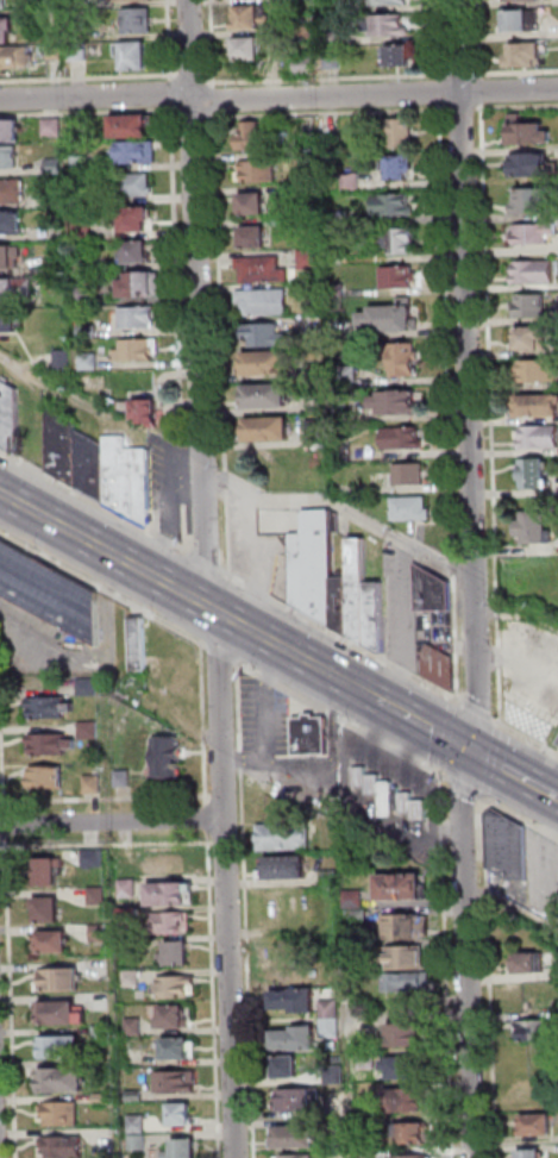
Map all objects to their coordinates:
building: (521, 0)
building: (133, 1)
building: (390, 2)
building: (0, 5)
building: (251, 18)
building: (522, 19)
building: (137, 21)
building: (388, 25)
building: (305, 26)
building: (6, 30)
building: (336, 38)
road: (481, 38)
road: (170, 39)
road: (438, 39)
road: (214, 43)
building: (250, 50)
building: (57, 52)
building: (77, 52)
building: (526, 55)
building: (136, 56)
building: (401, 56)
building: (14, 57)
building: (333, 60)
building: (306, 65)
road: (516, 74)
road: (459, 75)
road: (88, 77)
road: (192, 79)
road: (325, 79)
road: (482, 90)
road: (439, 92)
road: (171, 93)
road: (278, 98)
road: (215, 101)
road: (518, 108)
road: (462, 109)
road: (89, 113)
road: (194, 114)
road: (327, 114)
building: (131, 126)
building: (52, 129)
building: (526, 131)
building: (11, 132)
building: (400, 133)
building: (251, 137)
building: (332, 143)
building: (138, 152)
building: (10, 158)
building: (308, 161)
building: (528, 163)
building: (80, 164)
building: (54, 167)
building: (399, 168)
building: (258, 171)
building: (351, 180)
building: (133, 186)
building: (294, 189)
building: (13, 192)
building: (55, 199)
building: (529, 199)
building: (253, 205)
building: (393, 206)
building: (136, 220)
building: (295, 221)
building: (12, 224)
building: (84, 230)
building: (533, 233)
building: (255, 238)
building: (397, 242)
building: (134, 252)
building: (336, 256)
building: (10, 257)
building: (309, 261)
building: (56, 264)
building: (84, 265)
building: (263, 270)
building: (532, 270)
road: (177, 275)
building: (399, 278)
building: (138, 286)
building: (17, 289)
building: (336, 290)
building: (87, 296)
road: (196, 302)
building: (264, 302)
building: (528, 303)
building: (138, 318)
building: (391, 318)
building: (10, 323)
building: (337, 328)
building: (87, 332)
building: (528, 336)
building: (267, 337)
road: (222, 345)
building: (137, 351)
building: (402, 359)
building: (89, 362)
building: (63, 363)
building: (268, 364)
building: (538, 370)
building: (315, 371)
building: (346, 376)
road: (50, 383)
building: (268, 398)
building: (397, 403)
road: (449, 403)
building: (537, 403)
building: (341, 412)
building: (149, 413)
road: (493, 414)
building: (10, 418)
building: (270, 431)
building: (316, 433)
building: (535, 436)
building: (403, 439)
building: (63, 446)
building: (344, 455)
building: (92, 467)
building: (531, 472)
road: (183, 474)
building: (410, 475)
building: (128, 480)
road: (93, 502)
road: (340, 506)
building: (412, 511)
road: (174, 512)
building: (532, 526)
road: (184, 528)
road: (203, 563)
building: (314, 568)
road: (471, 580)
road: (169, 587)
road: (100, 588)
building: (359, 590)
building: (433, 593)
building: (50, 594)
building: (344, 606)
road: (516, 614)
building: (377, 618)
road: (341, 638)
building: (140, 645)
road: (219, 653)
building: (440, 669)
road: (108, 671)
building: (89, 688)
road: (360, 691)
building: (50, 709)
road: (478, 711)
building: (528, 718)
road: (344, 721)
road: (205, 724)
road: (425, 726)
building: (90, 731)
road: (2, 733)
road: (447, 733)
road: (526, 737)
building: (312, 738)
building: (51, 746)
traffic signals: (469, 750)
building: (168, 758)
road: (494, 759)
road: (512, 774)
building: (48, 778)
building: (125, 781)
building: (94, 785)
road: (466, 788)
building: (391, 797)
road: (557, 799)
road: (111, 800)
road: (520, 818)
road: (352, 819)
road: (207, 820)
road: (112, 822)
road: (5, 825)
building: (286, 839)
road: (115, 846)
road: (2, 849)
building: (509, 849)
building: (93, 859)
building: (165, 866)
road: (548, 866)
building: (287, 870)
building: (48, 875)
building: (331, 878)
road: (227, 888)
building: (403, 889)
building: (128, 890)
building: (170, 896)
building: (98, 897)
building: (356, 900)
road: (246, 910)
building: (49, 912)
building: (358, 920)
building: (170, 925)
building: (408, 928)
building: (99, 934)
building: (52, 944)
building: (132, 946)
building: (177, 957)
building: (407, 959)
road: (449, 963)
building: (531, 964)
building: (291, 975)
road: (491, 977)
building: (132, 979)
building: (58, 982)
building: (406, 983)
building: (177, 989)
road: (214, 996)
road: (11, 997)
building: (296, 1002)
building: (62, 1016)
building: (331, 1019)
building: (174, 1020)
building: (134, 1028)
building: (538, 1032)
building: (101, 1034)
building: (408, 1038)
building: (297, 1041)
building: (62, 1049)
building: (178, 1051)
building: (529, 1062)
building: (368, 1063)
building: (288, 1069)
building: (407, 1070)
building: (336, 1076)
building: (63, 1082)
building: (177, 1083)
building: (134, 1097)
building: (104, 1100)
building: (295, 1102)
building: (408, 1102)
building: (337, 1108)
building: (62, 1115)
building: (182, 1116)
building: (137, 1126)
building: (538, 1127)
building: (414, 1135)
building: (296, 1139)
building: (138, 1144)
building: (64, 1147)
building: (184, 1151)
building: (369, 1153)
building: (532, 1154)
building: (410, 1156)
building: (300, 1157)

